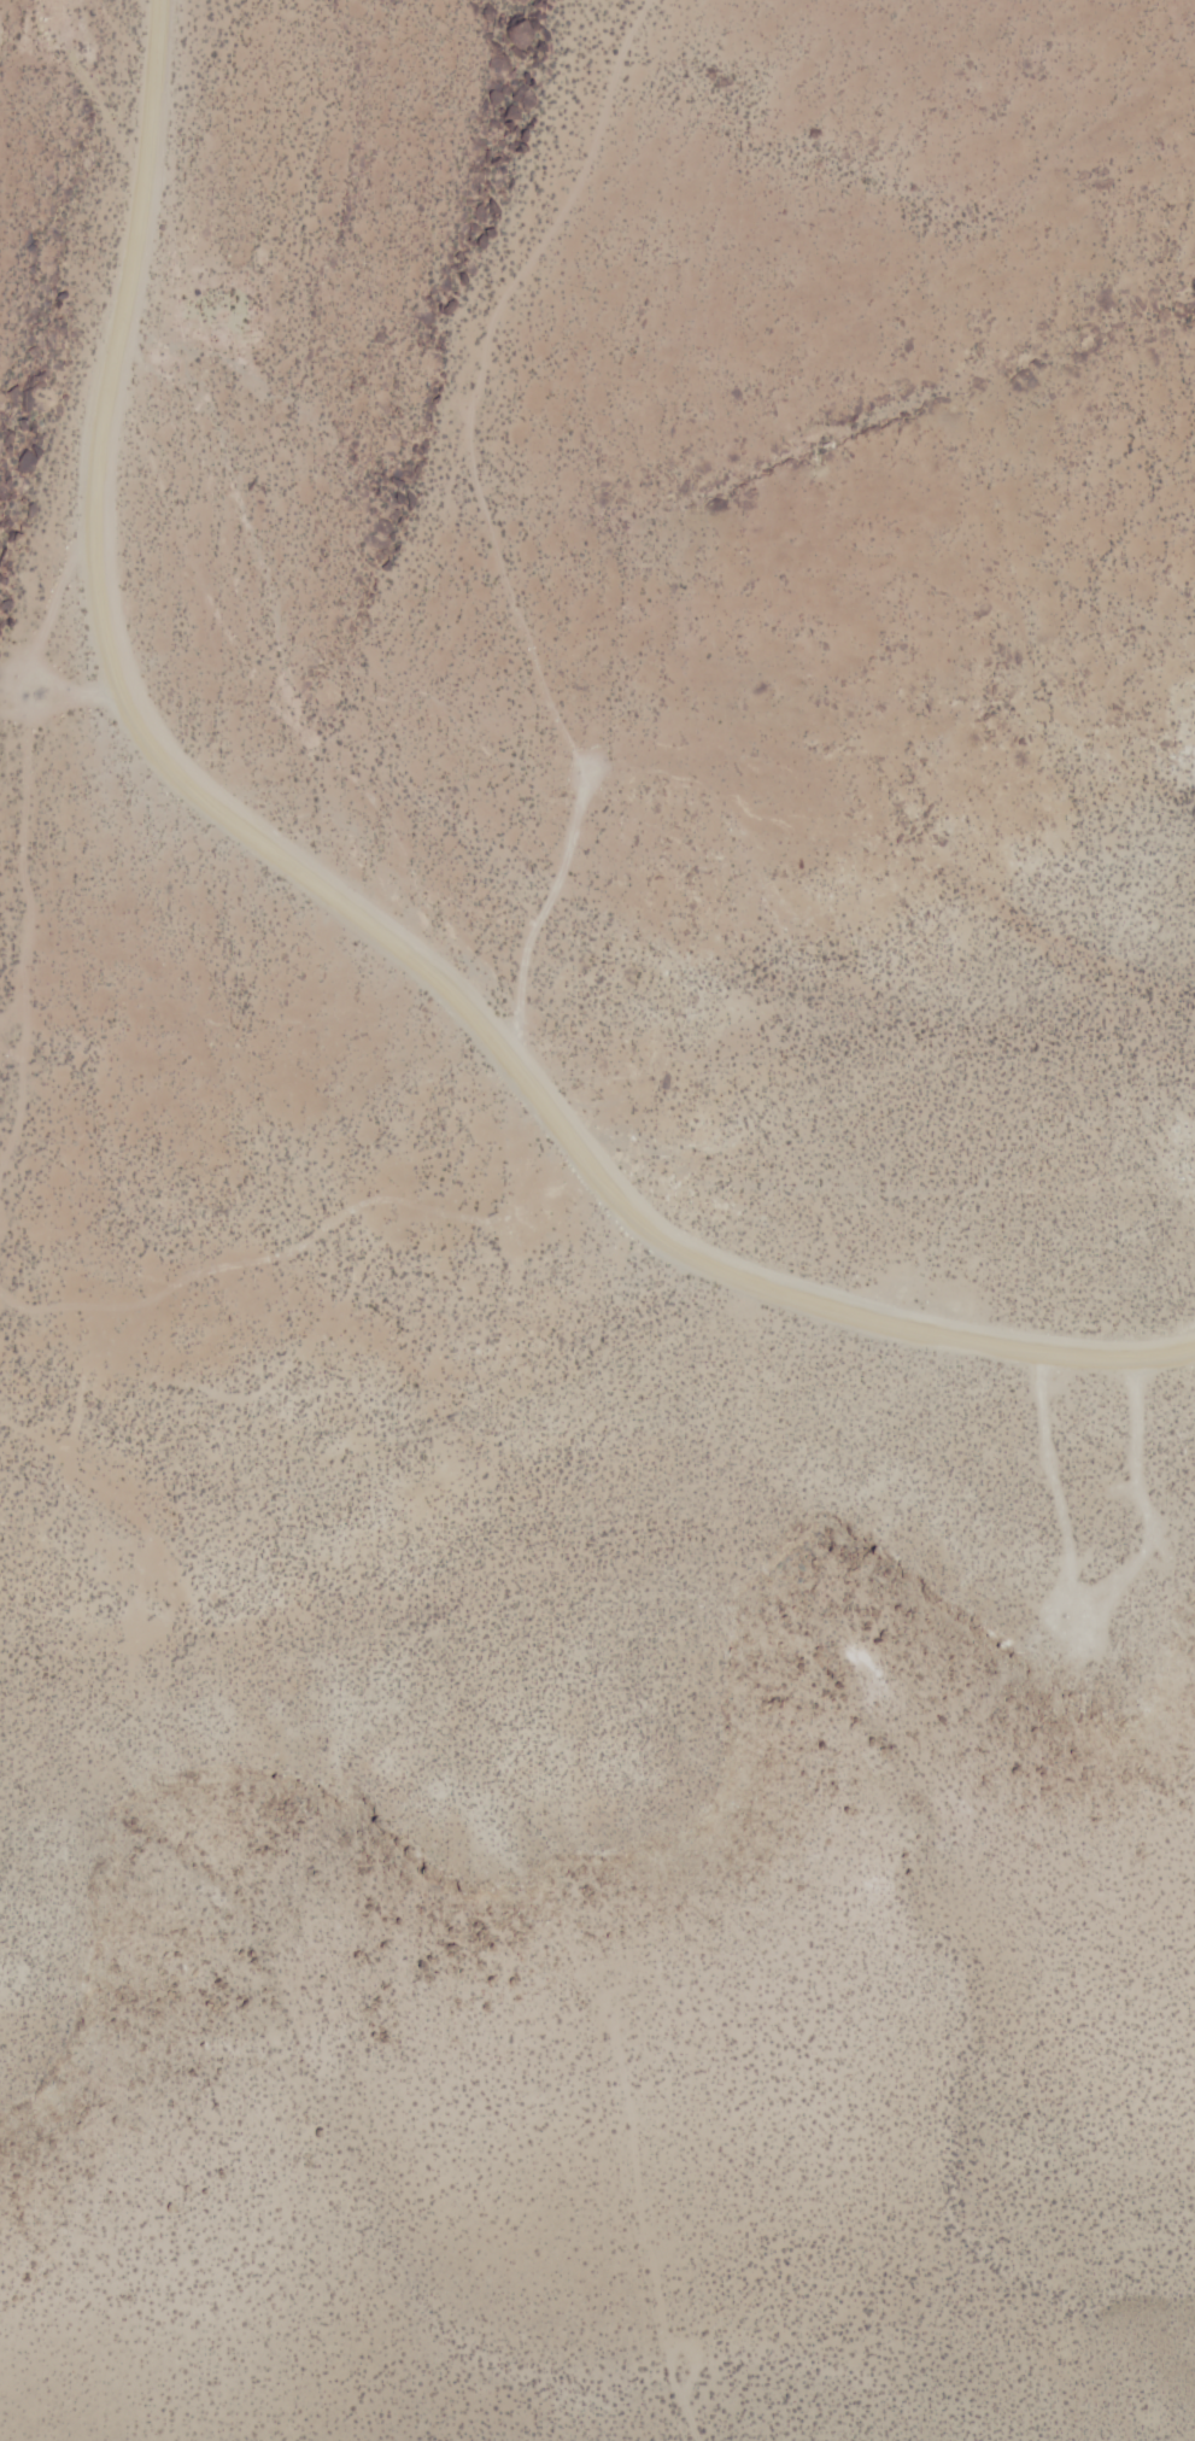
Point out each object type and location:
road: (484, 517)
road: (16, 832)
road: (348, 900)
road: (309, 1236)
road: (638, 2242)

